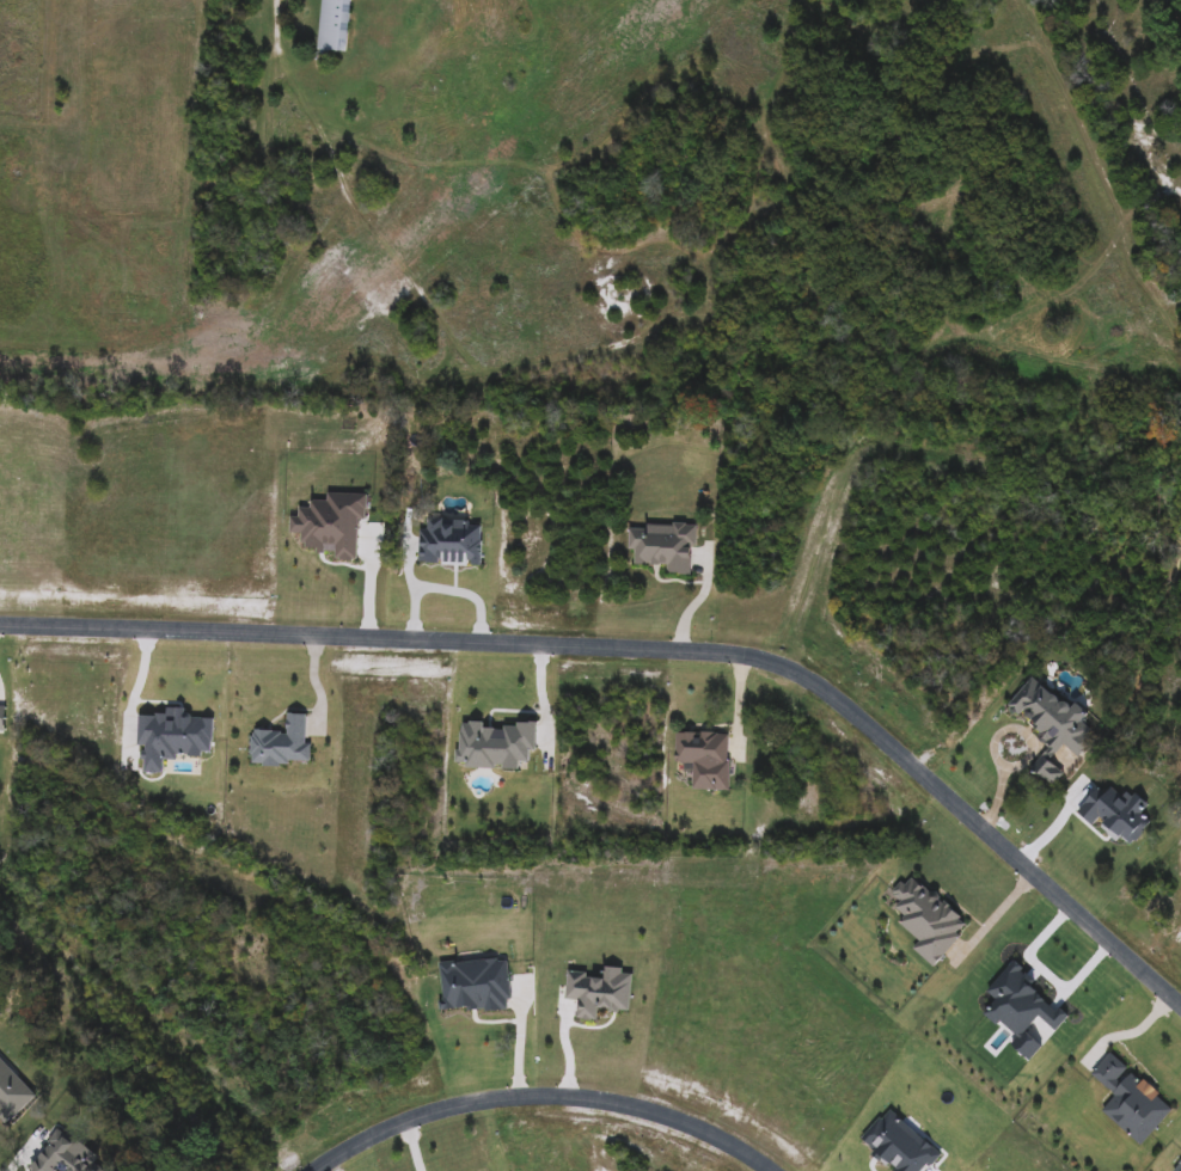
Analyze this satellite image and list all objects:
road: (277, 25)
building: (331, 26)
road: (653, 646)
road: (130, 695)
road: (998, 734)
road: (993, 914)
road: (573, 1048)
road: (543, 1095)

